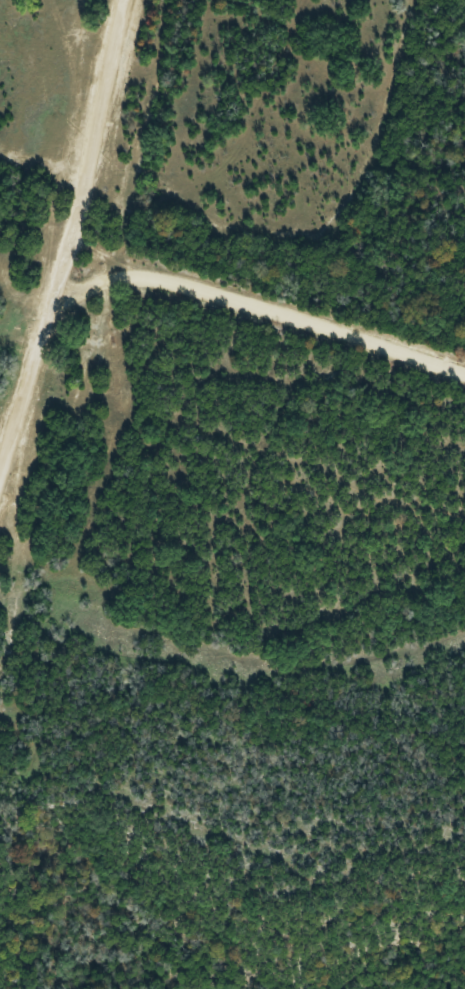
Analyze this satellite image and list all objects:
road: (86, 148)
road: (256, 310)
road: (24, 374)

